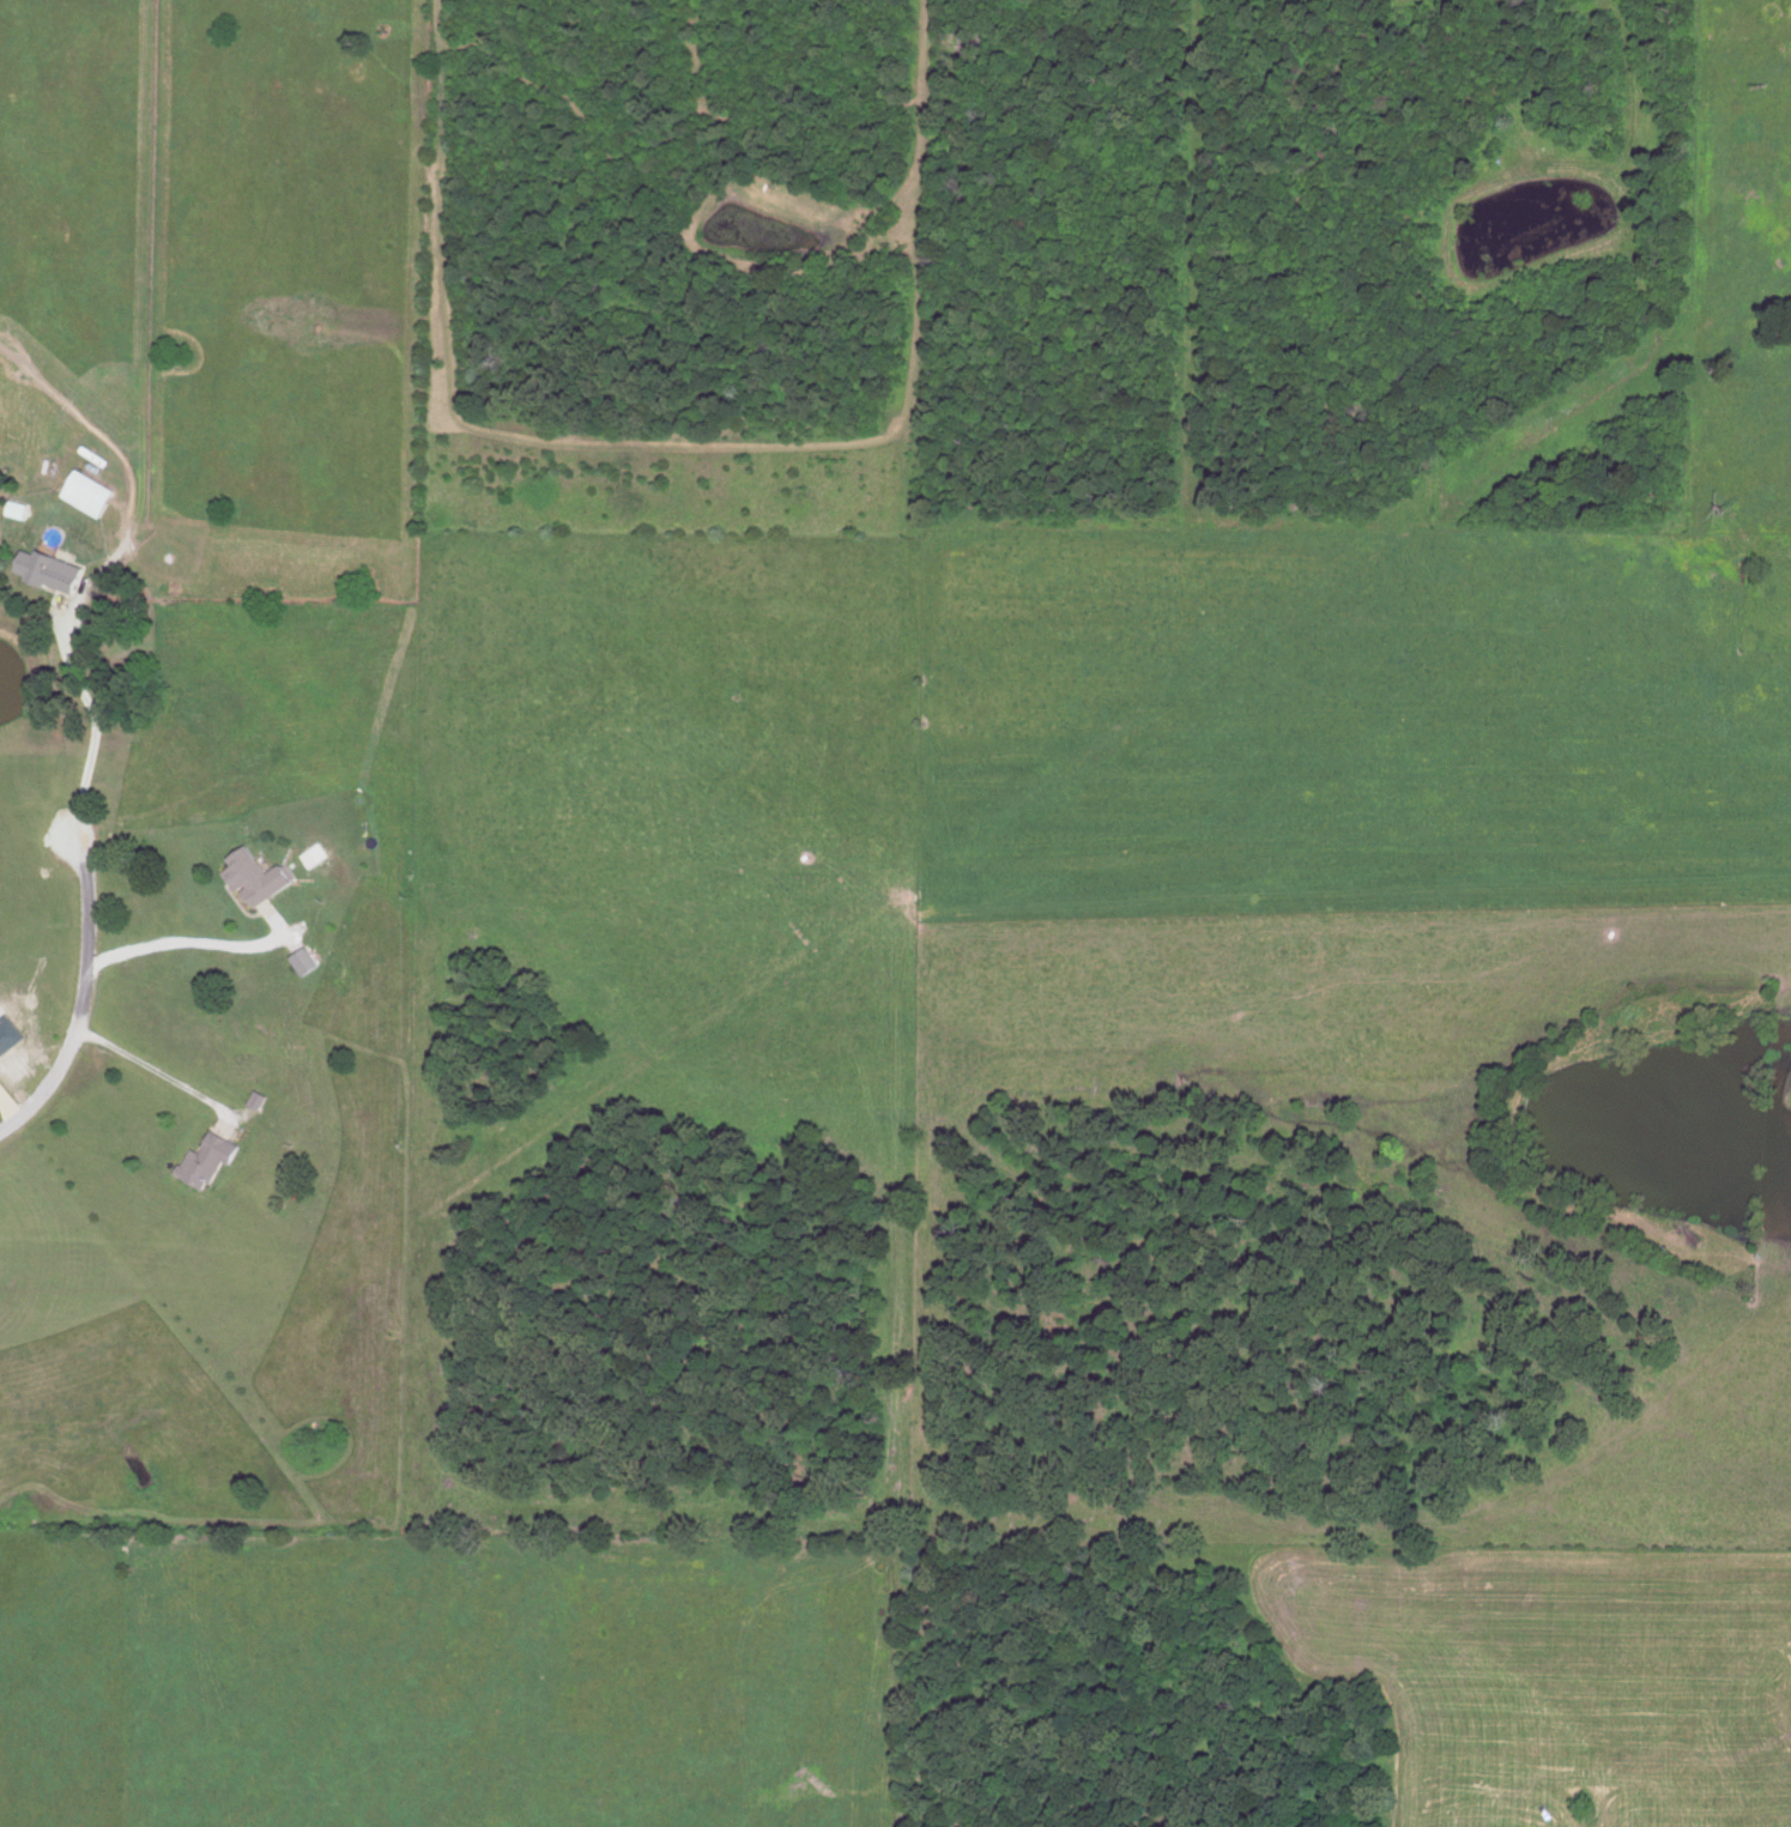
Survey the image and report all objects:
building: (81, 495)
building: (42, 573)
road: (97, 726)
building: (250, 879)
road: (192, 943)
building: (298, 962)
road: (81, 999)
road: (156, 1071)
building: (201, 1161)

